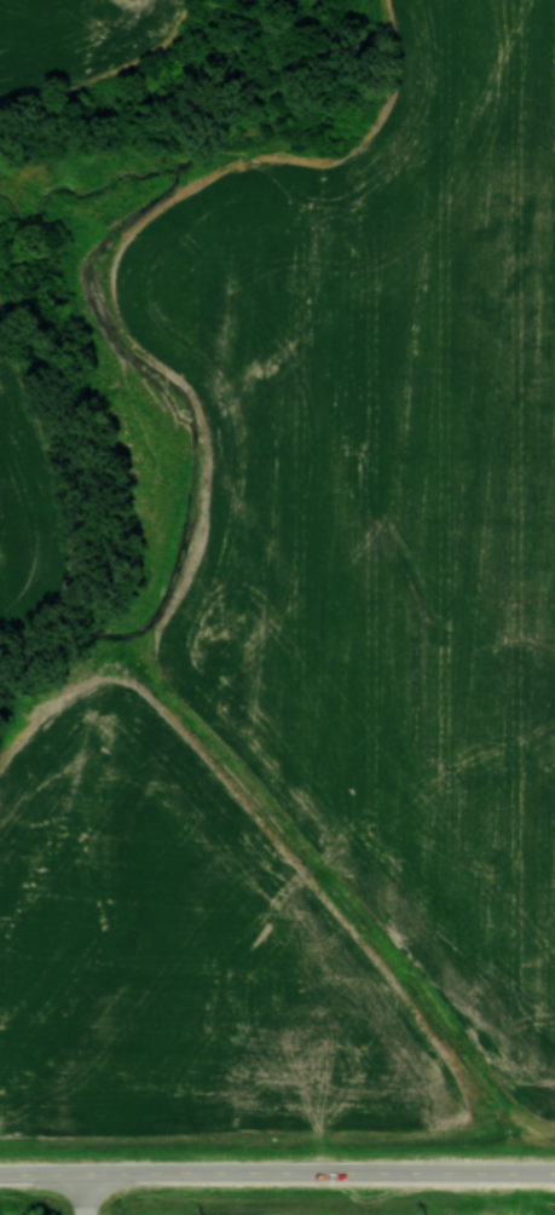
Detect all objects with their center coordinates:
road: (277, 1174)
road: (87, 1193)
park: (44, 1213)
road: (86, 1213)

